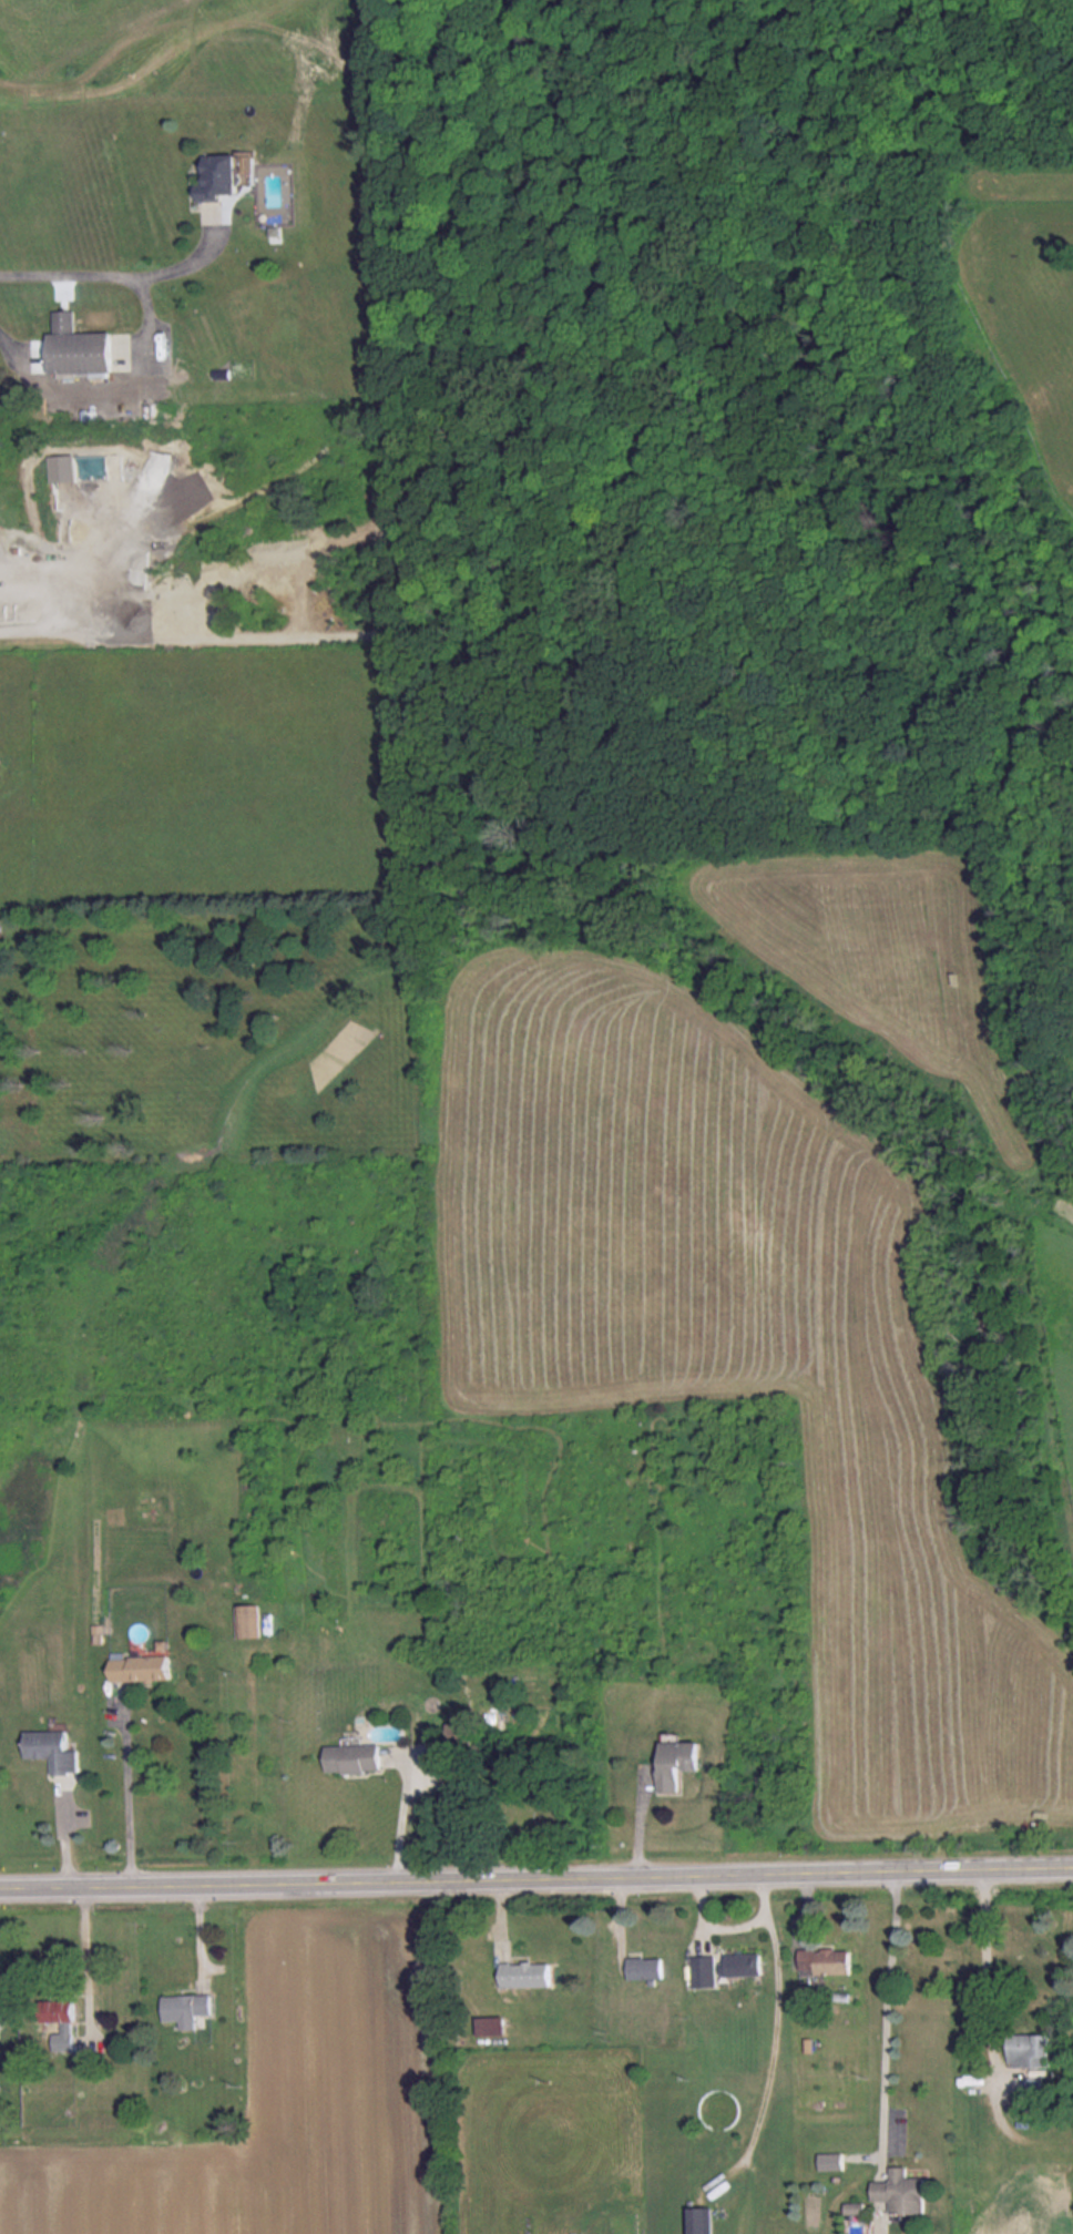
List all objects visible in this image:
building: (221, 176)
road: (117, 274)
building: (75, 347)
building: (96, 467)
building: (247, 1621)
building: (139, 1667)
building: (459, 1732)
building: (50, 1750)
building: (351, 1757)
building: (677, 1762)
road: (130, 1793)
road: (403, 1813)
road: (536, 1875)
road: (714, 1921)
road: (86, 1951)
building: (825, 1960)
building: (744, 1963)
road: (987, 1963)
building: (645, 1968)
building: (703, 1970)
building: (525, 1973)
building: (185, 2008)
road: (887, 2009)
building: (2, 2010)
building: (60, 2022)
road: (776, 2022)
building: (488, 2026)
building: (1029, 2050)
building: (830, 2161)
building: (902, 2191)
building: (857, 2217)
building: (699, 2220)

